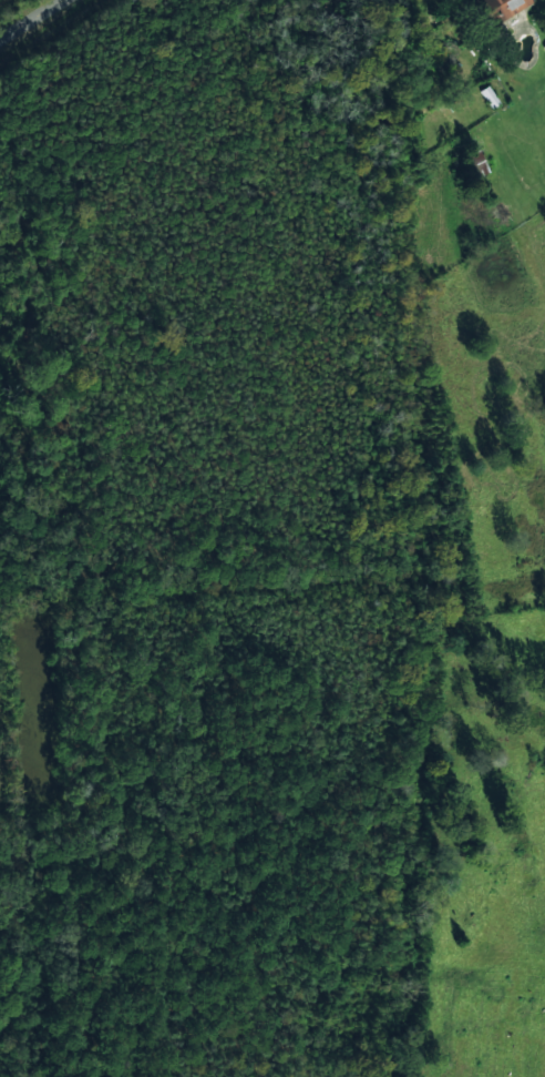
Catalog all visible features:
building: (501, 8)
road: (31, 19)
building: (489, 96)

